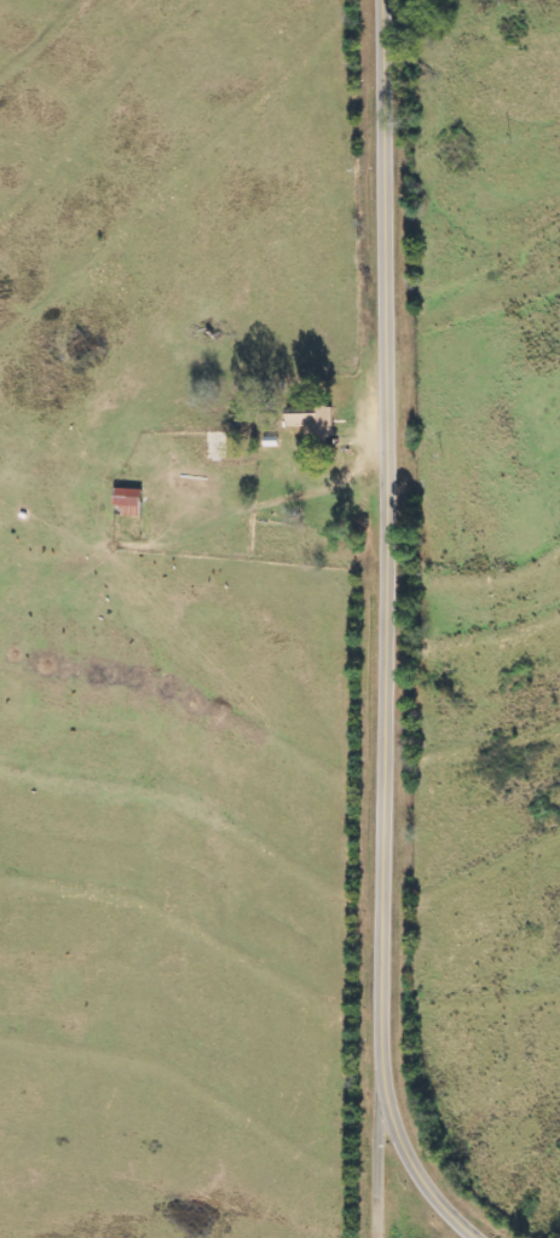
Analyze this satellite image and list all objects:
building: (312, 423)
building: (128, 503)
road: (386, 636)
road: (380, 1142)
road: (375, 1219)

